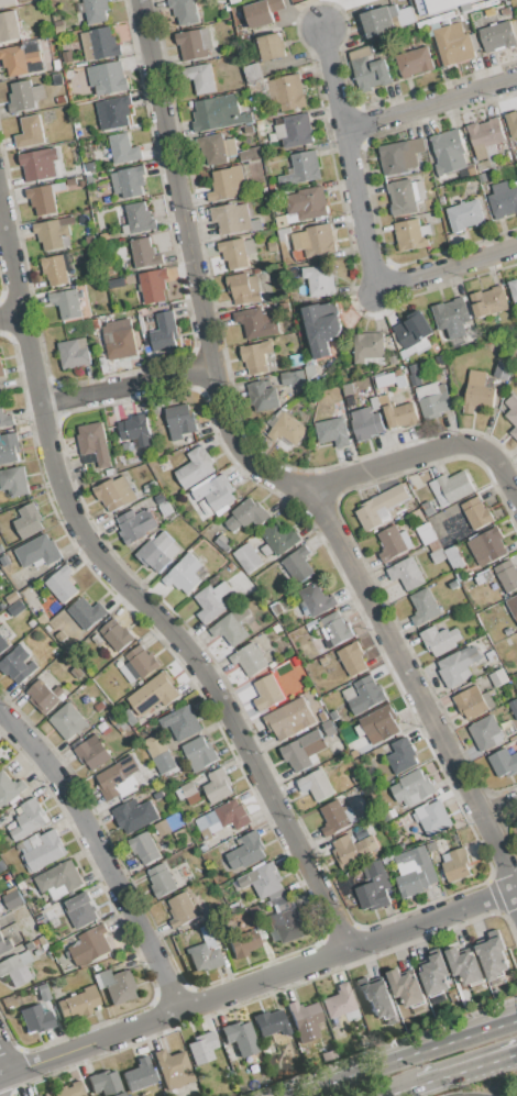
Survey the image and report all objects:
building: (293, 0)
building: (7, 2)
building: (276, 4)
building: (437, 5)
building: (96, 11)
building: (184, 11)
building: (258, 13)
building: (380, 20)
building: (58, 23)
building: (9, 26)
building: (59, 30)
building: (226, 35)
building: (497, 35)
building: (453, 41)
building: (194, 43)
building: (99, 44)
building: (272, 46)
building: (68, 57)
building: (18, 60)
building: (415, 62)
building: (369, 68)
building: (253, 71)
building: (109, 78)
building: (204, 78)
building: (288, 91)
building: (24, 96)
road: (431, 102)
building: (113, 112)
building: (218, 113)
building: (512, 123)
building: (295, 130)
building: (30, 132)
building: (485, 137)
building: (123, 148)
building: (219, 148)
building: (449, 152)
building: (250, 153)
building: (400, 155)
road: (351, 157)
building: (40, 163)
building: (89, 167)
building: (302, 168)
building: (128, 180)
building: (71, 181)
building: (229, 182)
building: (405, 196)
building: (42, 200)
building: (503, 200)
building: (307, 202)
building: (464, 215)
building: (140, 218)
building: (231, 218)
building: (66, 220)
building: (282, 220)
building: (255, 224)
building: (51, 233)
building: (283, 233)
building: (411, 234)
building: (317, 239)
building: (145, 252)
building: (237, 252)
road: (11, 259)
road: (446, 267)
building: (55, 269)
building: (319, 280)
building: (153, 286)
building: (244, 289)
building: (514, 289)
building: (67, 302)
building: (488, 302)
building: (451, 317)
building: (256, 321)
building: (322, 326)
building: (108, 328)
building: (165, 331)
building: (411, 331)
building: (122, 344)
building: (369, 346)
road: (30, 348)
building: (74, 353)
building: (256, 356)
building: (1, 369)
building: (414, 369)
building: (503, 370)
building: (310, 374)
building: (293, 377)
building: (384, 378)
building: (415, 379)
road: (127, 389)
building: (348, 389)
building: (477, 392)
building: (264, 396)
building: (432, 399)
building: (351, 401)
building: (375, 402)
building: (512, 413)
building: (400, 416)
building: (5, 418)
building: (179, 421)
building: (365, 423)
building: (286, 429)
building: (333, 431)
building: (135, 432)
building: (94, 442)
building: (9, 449)
road: (428, 455)
building: (195, 467)
road: (268, 473)
building: (14, 480)
building: (451, 487)
building: (114, 492)
building: (216, 492)
building: (381, 507)
building: (428, 508)
building: (476, 512)
building: (248, 514)
building: (29, 521)
building: (135, 525)
building: (427, 535)
building: (279, 538)
building: (222, 541)
building: (392, 542)
building: (488, 544)
building: (37, 551)
building: (157, 552)
building: (438, 555)
building: (248, 557)
building: (4, 561)
building: (297, 564)
building: (406, 573)
building: (184, 574)
building: (507, 575)
building: (62, 584)
building: (453, 584)
building: (12, 596)
building: (317, 600)
building: (211, 601)
building: (513, 605)
building: (424, 607)
building: (16, 608)
building: (87, 612)
building: (42, 619)
building: (231, 626)
building: (334, 629)
building: (116, 634)
building: (61, 635)
building: (440, 640)
building: (2, 643)
building: (249, 658)
building: (352, 658)
building: (18, 664)
building: (139, 664)
building: (459, 666)
road: (200, 671)
building: (77, 672)
building: (498, 677)
building: (267, 693)
building: (154, 694)
building: (366, 695)
building: (45, 696)
building: (473, 701)
building: (514, 706)
building: (334, 715)
building: (130, 718)
building: (116, 719)
building: (289, 719)
building: (67, 721)
building: (182, 722)
building: (378, 723)
building: (328, 728)
building: (486, 733)
building: (94, 751)
building: (302, 751)
building: (199, 752)
building: (161, 753)
building: (402, 755)
building: (505, 760)
building: (116, 776)
building: (316, 784)
building: (218, 785)
building: (413, 787)
building: (10, 789)
building: (190, 791)
road: (498, 805)
building: (134, 816)
building: (337, 817)
building: (29, 818)
building: (435, 818)
building: (222, 819)
building: (168, 824)
building: (183, 837)
building: (145, 846)
building: (431, 846)
building: (353, 849)
building: (41, 850)
building: (246, 851)
road: (101, 854)
building: (457, 864)
building: (2, 865)
building: (411, 870)
building: (162, 878)
building: (59, 879)
building: (266, 881)
building: (374, 887)
building: (12, 898)
building: (182, 909)
building: (79, 911)
building: (256, 914)
building: (287, 922)
building: (243, 943)
building: (4, 944)
building: (30, 945)
building: (90, 945)
building: (493, 954)
building: (204, 957)
building: (464, 965)
building: (16, 967)
building: (436, 974)
road: (256, 984)
building: (116, 985)
building: (406, 988)
building: (43, 993)
building: (90, 997)
building: (377, 998)
building: (339, 1001)
building: (74, 1007)
building: (305, 1017)
building: (36, 1019)
building: (272, 1023)
building: (239, 1034)
building: (202, 1048)
building: (329, 1056)
road: (410, 1058)
road: (7, 1062)
building: (174, 1070)
road: (468, 1070)
building: (140, 1076)
road: (1, 1082)
building: (106, 1084)
building: (70, 1091)
road: (405, 1092)
building: (37, 1095)
building: (44, 1095)

